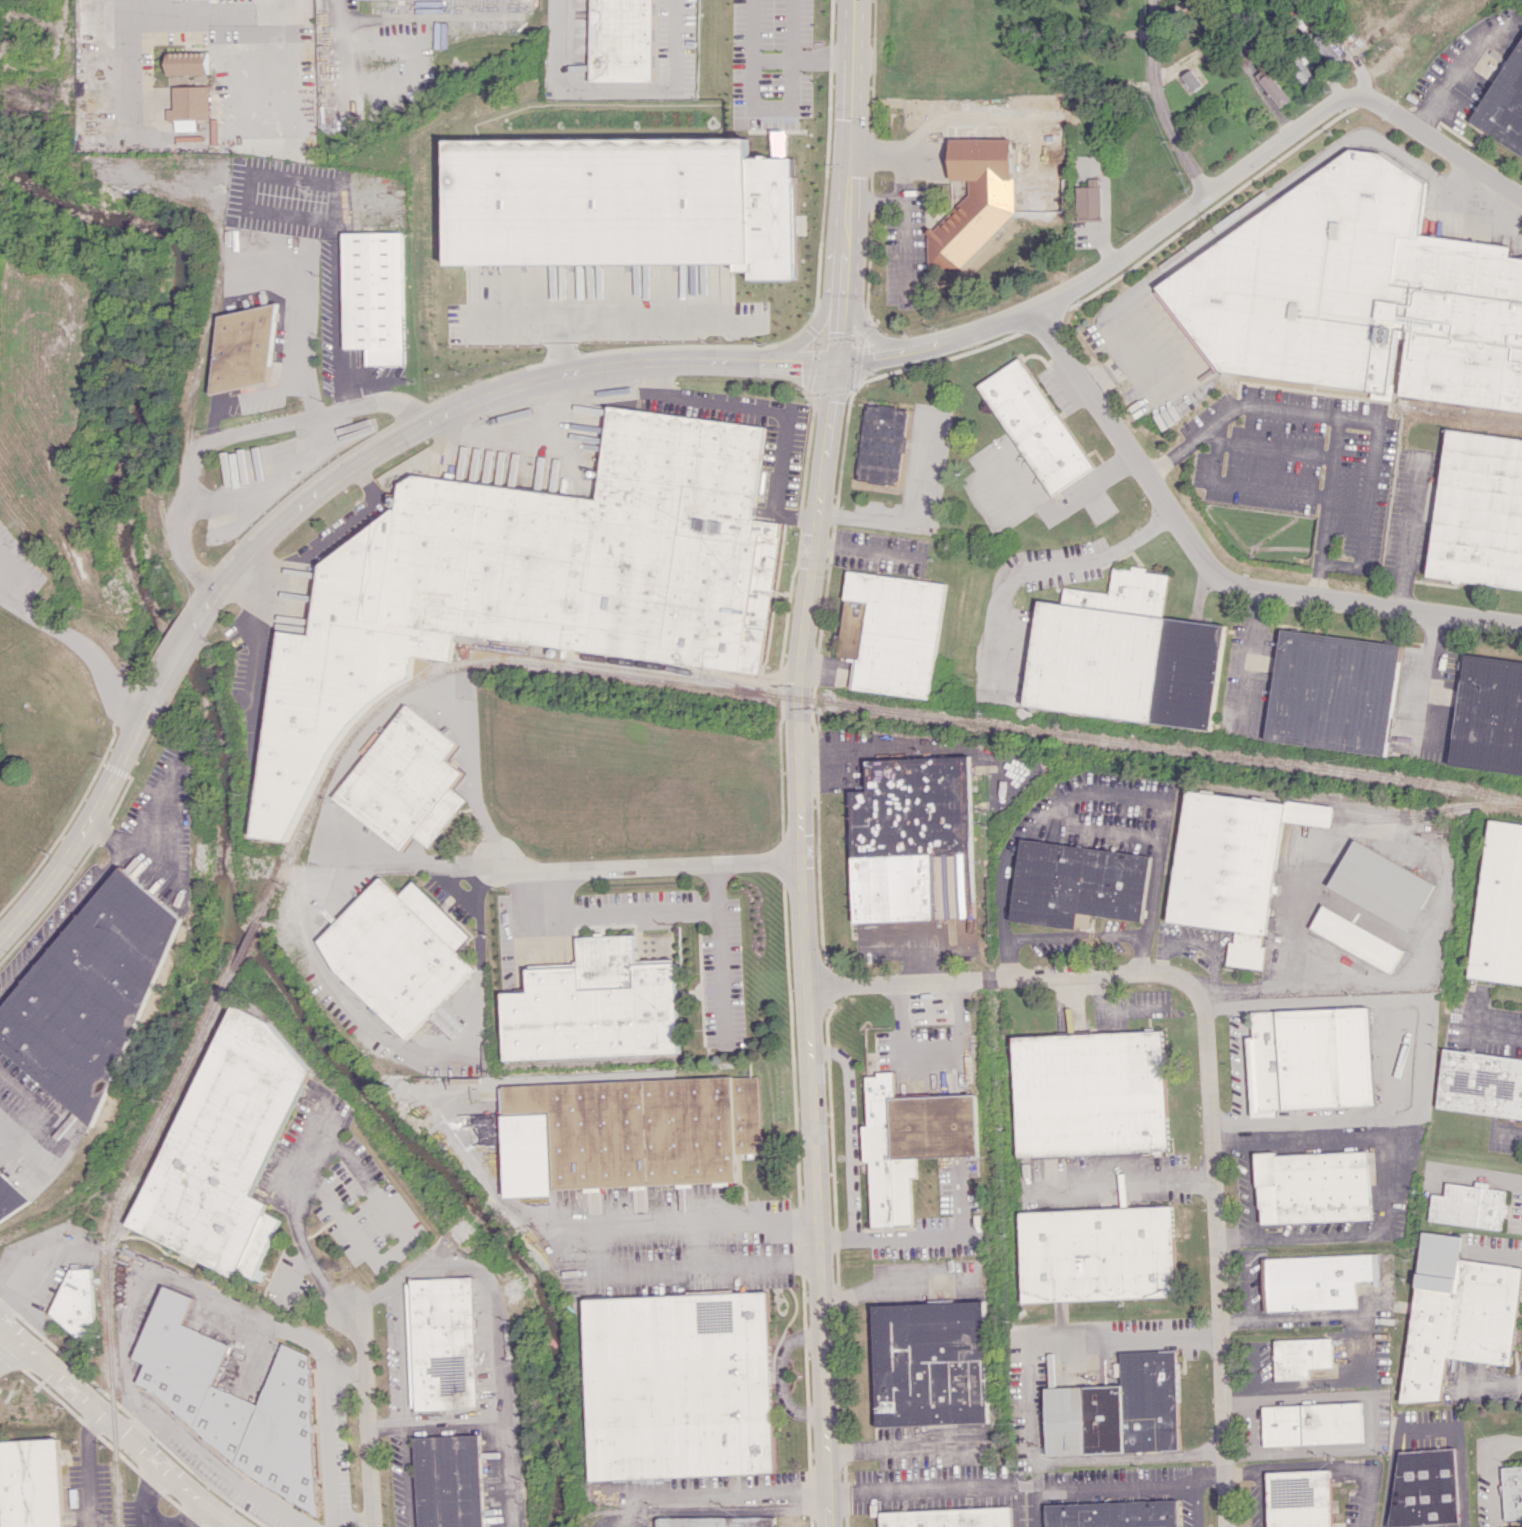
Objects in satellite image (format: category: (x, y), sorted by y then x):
road: (150, 12)
road: (792, 29)
road: (755, 30)
road: (337, 37)
building: (622, 40)
road: (822, 58)
road: (773, 59)
building: (187, 62)
building: (1301, 71)
building: (1192, 80)
road: (618, 87)
building: (1275, 89)
road: (1158, 101)
building: (190, 106)
building: (1504, 106)
road: (773, 107)
road: (937, 118)
road: (1440, 143)
road: (881, 200)
building: (972, 200)
building: (1089, 200)
building: (621, 203)
road: (904, 249)
road: (1109, 258)
building: (1355, 294)
building: (374, 295)
road: (522, 317)
road: (624, 320)
road: (340, 327)
building: (245, 348)
traffic signals: (836, 364)
road: (475, 400)
road: (774, 413)
railway: (1462, 413)
road: (1355, 421)
building: (1034, 425)
road: (234, 434)
road: (526, 438)
building: (881, 443)
road: (274, 482)
road: (1237, 484)
road: (1326, 490)
road: (1060, 506)
building: (1478, 511)
road: (915, 516)
road: (1405, 529)
road: (1045, 565)
road: (1211, 572)
road: (20, 574)
building: (529, 584)
building: (889, 632)
road: (78, 646)
building: (1123, 655)
road: (1249, 655)
road: (176, 660)
road: (1428, 664)
railway: (677, 668)
building: (1331, 692)
railway: (824, 701)
building: (1488, 715)
road: (797, 762)
road: (472, 771)
building: (406, 781)
road: (1095, 789)
road: (161, 805)
railway: (1361, 808)
railway: (1392, 818)
road: (91, 826)
road: (107, 831)
building: (913, 840)
road: (151, 853)
road: (388, 857)
building: (1233, 865)
road: (649, 866)
building: (1078, 883)
building: (1381, 884)
building: (1500, 907)
road: (606, 912)
railway: (305, 917)
road: (64, 921)
building: (1083, 921)
road: (1074, 935)
building: (1357, 938)
road: (1194, 941)
railway: (244, 945)
road: (719, 948)
railway: (303, 949)
building: (398, 952)
road: (1011, 977)
road: (1301, 983)
building: (91, 993)
building: (594, 1006)
road: (1219, 1006)
road: (1495, 1031)
road: (411, 1044)
road: (932, 1047)
building: (1309, 1059)
road: (1241, 1063)
road: (1419, 1069)
building: (1481, 1083)
building: (1088, 1093)
road: (1508, 1131)
building: (627, 1132)
road: (27, 1134)
building: (909, 1142)
building: (226, 1147)
road: (1392, 1176)
road: (1124, 1183)
railway: (99, 1186)
building: (1311, 1186)
road: (852, 1187)
road: (1244, 1187)
building: (9, 1195)
building: (1467, 1206)
road: (297, 1215)
road: (676, 1225)
railway: (108, 1234)
road: (836, 1240)
road: (405, 1241)
building: (1095, 1253)
road: (708, 1264)
road: (1212, 1267)
road: (486, 1271)
road: (296, 1273)
building: (1312, 1281)
road: (887, 1287)
road: (1241, 1287)
building: (77, 1302)
road: (238, 1303)
building: (1455, 1314)
road: (4, 1340)
building: (444, 1344)
road: (409, 1349)
building: (1298, 1357)
building: (930, 1363)
road: (348, 1372)
road: (782, 1374)
road: (1493, 1380)
building: (679, 1383)
road: (1293, 1384)
road: (1369, 1394)
road: (1307, 1395)
road: (1247, 1397)
building: (235, 1401)
road: (1031, 1401)
building: (1117, 1410)
road: (368, 1414)
road: (495, 1420)
building: (1310, 1423)
road: (114, 1424)
road: (133, 1426)
road: (1426, 1428)
road: (1506, 1441)
road: (908, 1449)
road: (1321, 1464)
road: (87, 1467)
road: (225, 1470)
road: (410, 1475)
road: (1208, 1478)
building: (451, 1481)
building: (32, 1483)
road: (1122, 1485)
road: (1493, 1487)
building: (1424, 1488)
road: (921, 1489)
building: (1512, 1492)
road: (733, 1493)
road: (1257, 1497)
building: (1297, 1497)
road: (145, 1498)
road: (1016, 1505)
building: (1113, 1514)
road: (191, 1515)
building: (949, 1518)
building: (720, 1521)

